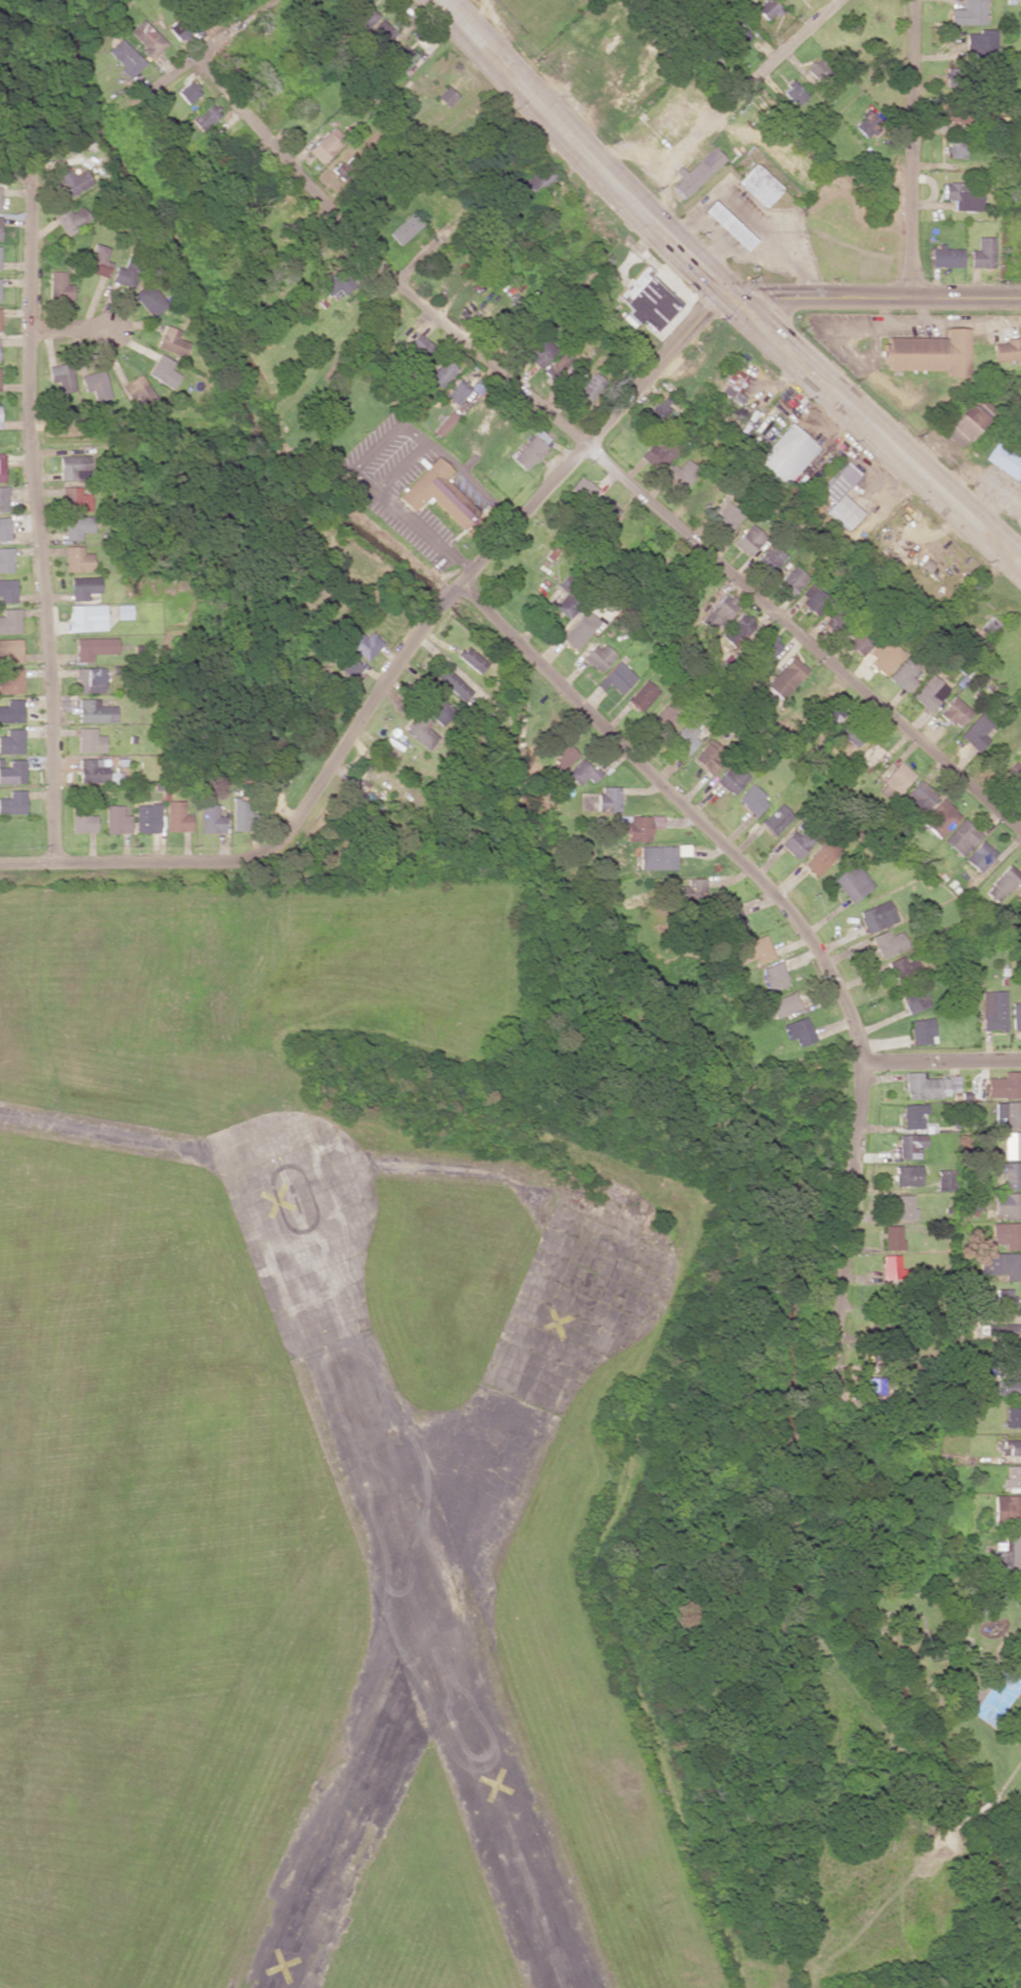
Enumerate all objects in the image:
road: (452, 3)
building: (767, 9)
building: (968, 13)
building: (365, 16)
building: (177, 31)
building: (380, 34)
building: (738, 34)
building: (148, 39)
building: (981, 43)
road: (200, 55)
building: (124, 57)
building: (400, 59)
building: (818, 69)
building: (952, 74)
building: (189, 91)
building: (793, 92)
building: (446, 96)
road: (736, 99)
building: (205, 116)
building: (867, 124)
building: (324, 145)
road: (908, 147)
building: (955, 149)
road: (583, 150)
building: (344, 165)
building: (696, 172)
road: (16, 176)
building: (537, 180)
building: (74, 181)
building: (758, 185)
building: (962, 196)
building: (0, 203)
road: (406, 208)
building: (71, 219)
building: (726, 224)
building: (0, 227)
building: (404, 228)
building: (983, 252)
building: (946, 256)
building: (98, 259)
road: (380, 264)
building: (125, 274)
building: (336, 282)
building: (59, 286)
road: (876, 294)
traffic signals: (731, 295)
building: (149, 299)
building: (646, 299)
building: (0, 325)
road: (73, 330)
building: (171, 341)
building: (420, 347)
building: (1007, 350)
building: (540, 352)
building: (928, 352)
building: (558, 364)
road: (659, 370)
building: (163, 371)
building: (443, 371)
building: (61, 376)
building: (96, 384)
building: (734, 385)
building: (587, 387)
building: (137, 391)
building: (458, 391)
building: (661, 409)
building: (0, 419)
building: (445, 423)
road: (876, 427)
building: (964, 427)
building: (531, 449)
building: (658, 453)
building: (786, 455)
building: (1004, 460)
building: (2, 467)
building: (73, 467)
building: (680, 474)
building: (839, 481)
building: (582, 488)
building: (438, 492)
building: (4, 499)
building: (75, 499)
building: (604, 509)
building: (844, 511)
road: (522, 515)
building: (726, 517)
road: (36, 519)
building: (77, 526)
building: (4, 528)
building: (748, 539)
building: (553, 550)
building: (769, 558)
building: (6, 559)
building: (78, 559)
building: (791, 580)
building: (84, 587)
building: (8, 590)
building: (813, 598)
building: (566, 605)
building: (124, 611)
building: (720, 611)
building: (87, 617)
building: (10, 621)
building: (990, 625)
building: (737, 627)
building: (576, 633)
road: (804, 638)
building: (364, 644)
building: (768, 645)
building: (94, 647)
building: (10, 650)
building: (597, 656)
building: (883, 656)
building: (472, 659)
building: (348, 665)
building: (904, 674)
building: (618, 676)
building: (786, 677)
building: (90, 679)
building: (11, 681)
building: (455, 685)
building: (930, 692)
building: (642, 695)
building: (437, 708)
building: (11, 710)
building: (95, 711)
building: (955, 712)
building: (831, 715)
building: (665, 716)
building: (421, 730)
building: (976, 731)
building: (851, 733)
building: (685, 736)
building: (89, 740)
building: (12, 741)
building: (561, 756)
building: (710, 756)
building: (1015, 770)
building: (13, 771)
building: (96, 771)
building: (581, 772)
building: (731, 779)
building: (895, 781)
building: (608, 797)
building: (919, 798)
building: (752, 800)
building: (13, 802)
road: (684, 806)
building: (240, 814)
building: (176, 816)
building: (146, 817)
building: (81, 818)
building: (776, 818)
building: (940, 818)
building: (115, 819)
building: (211, 819)
building: (638, 826)
road: (285, 829)
building: (962, 837)
building: (800, 838)
building: (660, 856)
building: (980, 856)
building: (821, 857)
building: (852, 881)
building: (1002, 883)
building: (693, 890)
building: (876, 915)
building: (735, 919)
building: (888, 943)
building: (754, 950)
building: (904, 969)
building: (774, 976)
building: (914, 997)
building: (783, 1004)
building: (994, 1010)
building: (1016, 1015)
building: (800, 1030)
building: (922, 1030)
road: (941, 1061)
building: (930, 1085)
building: (1005, 1085)
building: (1008, 1114)
building: (914, 1115)
building: (1012, 1144)
building: (910, 1145)
building: (1009, 1173)
building: (907, 1175)
building: (945, 1179)
building: (1008, 1204)
building: (904, 1207)
road: (847, 1231)
building: (1007, 1234)
building: (892, 1237)
building: (1001, 1264)
building: (890, 1266)
building: (1004, 1298)
building: (1004, 1330)
building: (1012, 1358)
building: (1009, 1386)
building: (1013, 1417)
building: (1012, 1446)
airport: (313, 1454)
building: (1012, 1476)
building: (1007, 1509)
building: (1008, 1552)

